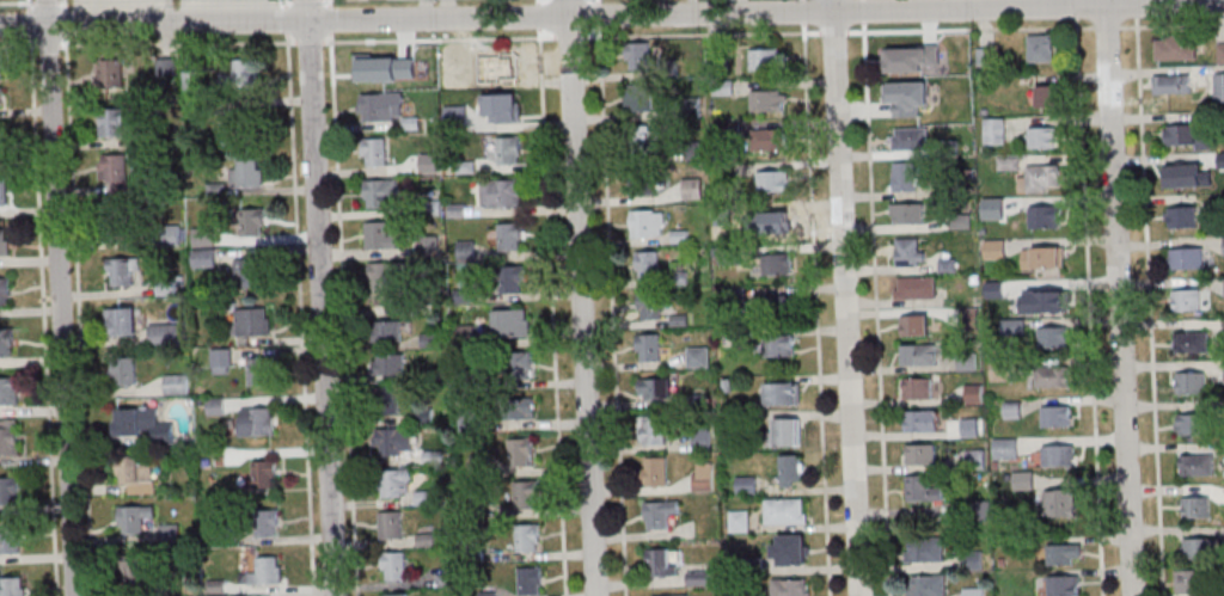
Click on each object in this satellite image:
road: (17, 1)
road: (45, 1)
road: (61, 1)
road: (538, 1)
road: (329, 2)
road: (27, 5)
road: (65, 6)
parking lot: (172, 11)
road: (612, 16)
building: (1175, 48)
building: (1040, 49)
building: (1219, 53)
building: (638, 55)
building: (900, 56)
building: (954, 57)
building: (765, 61)
building: (503, 64)
building: (371, 67)
building: (166, 68)
building: (1, 69)
building: (241, 72)
building: (111, 73)
building: (192, 80)
building: (1171, 85)
building: (1219, 86)
building: (895, 94)
building: (638, 97)
building: (1046, 97)
building: (1, 99)
building: (766, 102)
building: (380, 106)
building: (507, 107)
building: (112, 122)
building: (994, 131)
building: (1180, 135)
building: (1042, 137)
building: (643, 139)
building: (769, 140)
building: (911, 140)
building: (375, 150)
building: (507, 152)
building: (245, 174)
building: (117, 176)
building: (905, 176)
building: (1045, 176)
building: (1182, 177)
building: (643, 179)
building: (772, 183)
building: (690, 188)
building: (2, 192)
building: (381, 193)
building: (501, 193)
building: (908, 214)
building: (1044, 219)
building: (1183, 219)
building: (772, 222)
building: (251, 223)
building: (648, 223)
building: (381, 238)
building: (509, 238)
building: (1223, 245)
building: (4, 247)
building: (994, 248)
building: (466, 250)
building: (910, 252)
building: (1046, 258)
building: (1185, 259)
building: (648, 264)
building: (778, 265)
building: (122, 271)
building: (251, 274)
building: (512, 281)
building: (392, 284)
building: (166, 287)
building: (914, 288)
building: (5, 291)
road: (61, 297)
road: (320, 297)
road: (582, 297)
road: (611, 297)
road: (815, 297)
road: (845, 297)
road: (876, 297)
road: (1119, 297)
road: (1149, 297)
road: (552, 299)
building: (1045, 299)
building: (1187, 300)
building: (650, 306)
building: (121, 321)
building: (512, 322)
building: (252, 324)
building: (916, 327)
building: (387, 331)
building: (164, 336)
building: (1053, 338)
building: (1189, 343)
building: (6, 344)
building: (649, 346)
building: (779, 346)
building: (919, 354)
building: (698, 356)
building: (220, 362)
building: (387, 363)
building: (515, 365)
building: (1223, 370)
building: (124, 371)
building: (259, 371)
building: (1049, 377)
building: (1191, 383)
building: (176, 385)
building: (655, 388)
building: (917, 389)
building: (8, 391)
building: (783, 394)
building: (385, 401)
building: (215, 406)
building: (518, 406)
building: (1055, 418)
building: (256, 422)
building: (922, 422)
building: (142, 424)
building: (1195, 425)
building: (653, 430)
building: (787, 432)
building: (8, 437)
building: (392, 441)
building: (1005, 448)
building: (520, 451)
building: (1059, 454)
building: (920, 455)
building: (1197, 466)
building: (656, 471)
building: (791, 471)
building: (264, 473)
building: (135, 474)
building: (703, 477)
building: (394, 483)
building: (746, 484)
building: (10, 490)
building: (922, 490)
building: (525, 494)
building: (1060, 503)
building: (1199, 508)
building: (787, 510)
building: (660, 514)
building: (133, 521)
building: (741, 521)
building: (267, 522)
building: (391, 524)
building: (527, 537)
building: (11, 539)
building: (925, 549)
building: (1199, 549)
building: (790, 551)
building: (1061, 555)
building: (972, 560)
building: (661, 561)
building: (393, 566)
building: (139, 570)
building: (267, 571)
building: (698, 578)
building: (530, 580)
building: (1194, 583)
building: (925, 585)
building: (1063, 585)
building: (13, 586)
building: (790, 588)
building: (973, 591)
building: (397, 595)
building: (671, 595)

